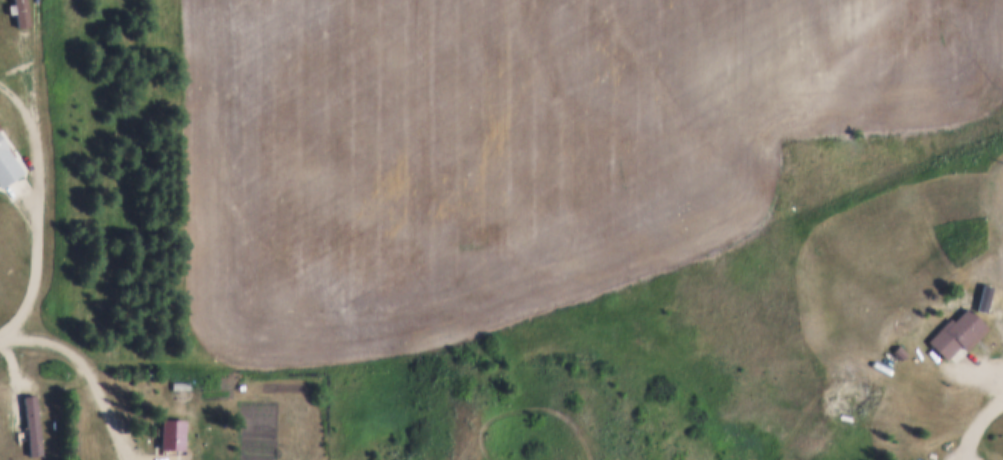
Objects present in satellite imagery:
building: (8, 162)
road: (40, 207)
building: (956, 330)
road: (1, 337)
building: (897, 350)
road: (970, 363)
building: (183, 383)
road: (101, 388)
building: (206, 396)
building: (33, 422)
road: (977, 427)
building: (173, 431)

